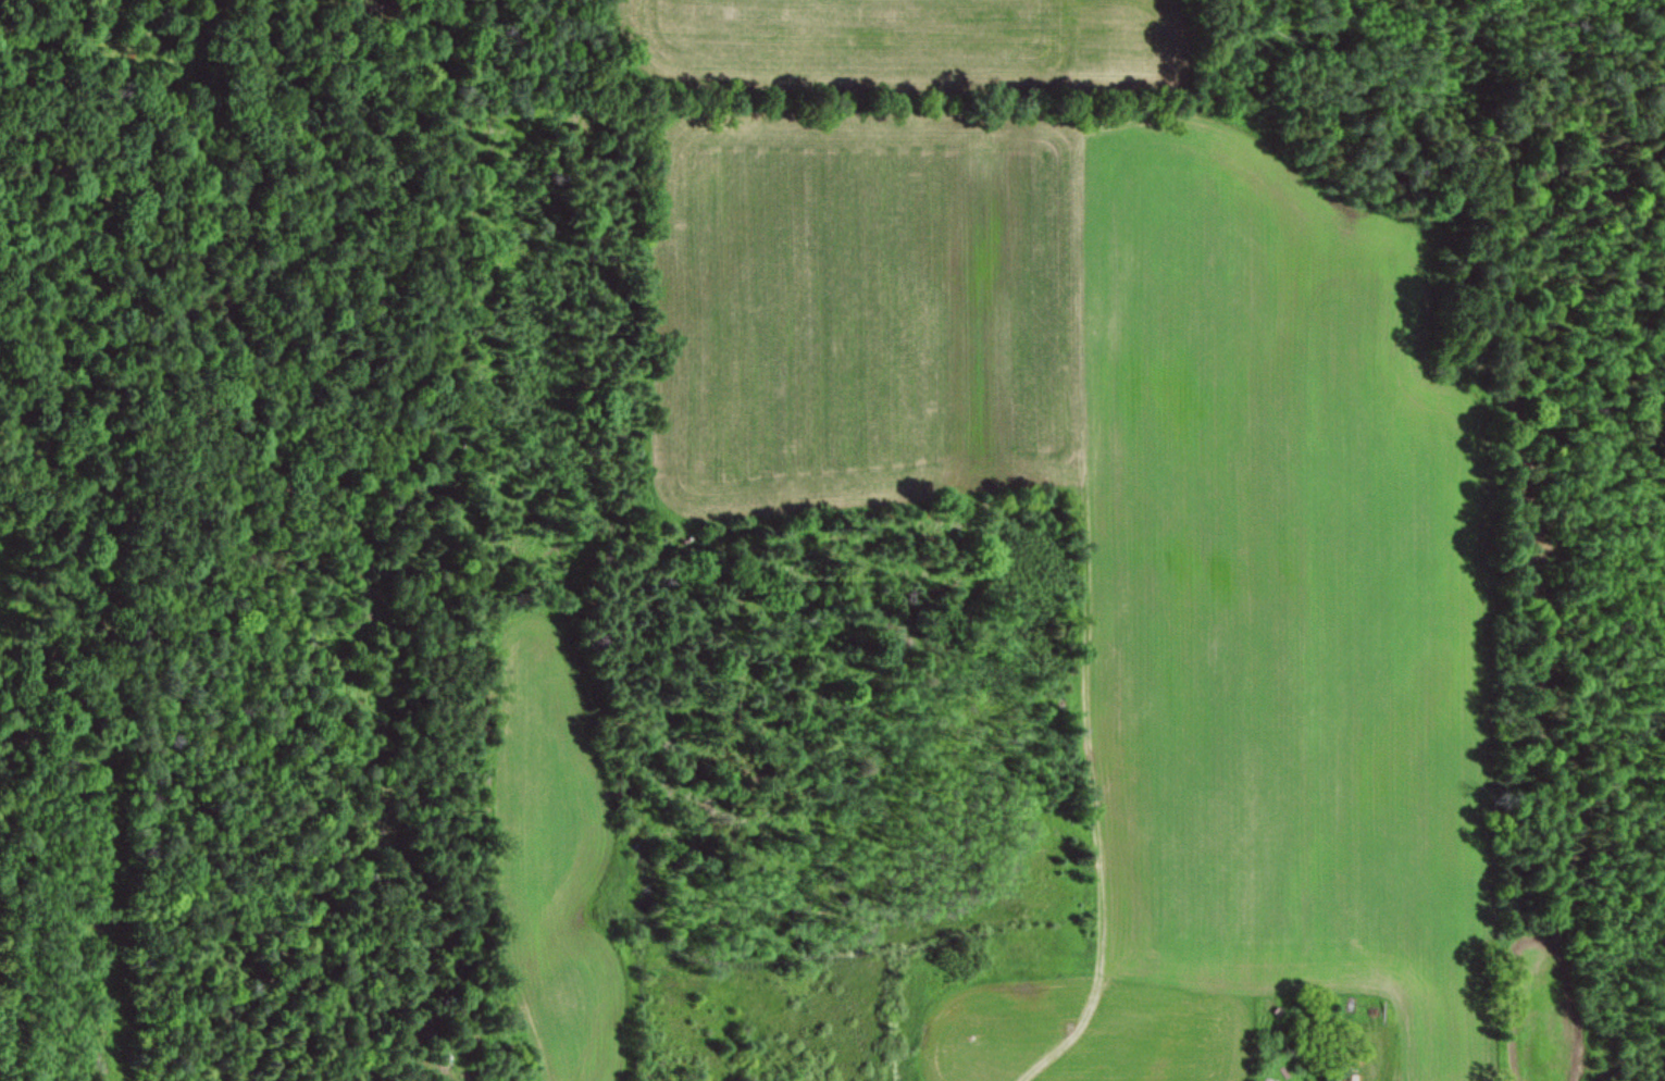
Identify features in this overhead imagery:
building: (445, 1057)

